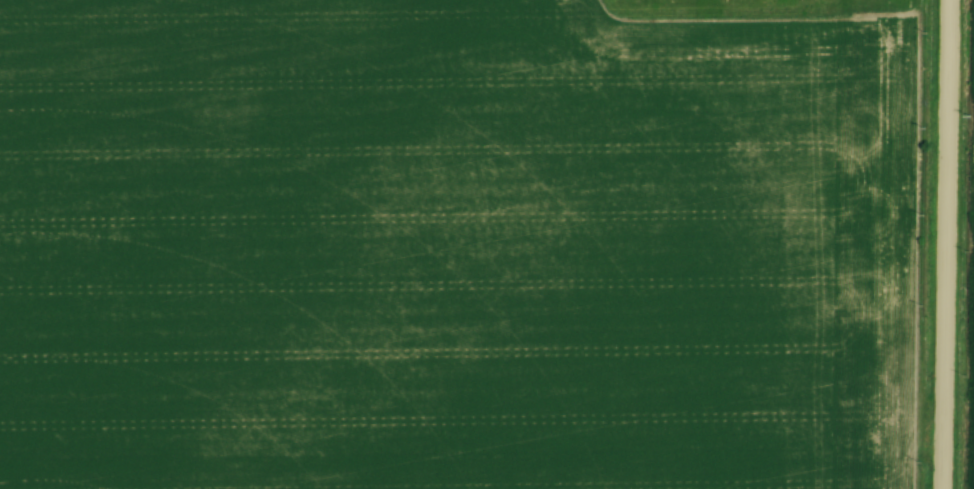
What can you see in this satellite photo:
road: (941, 244)

